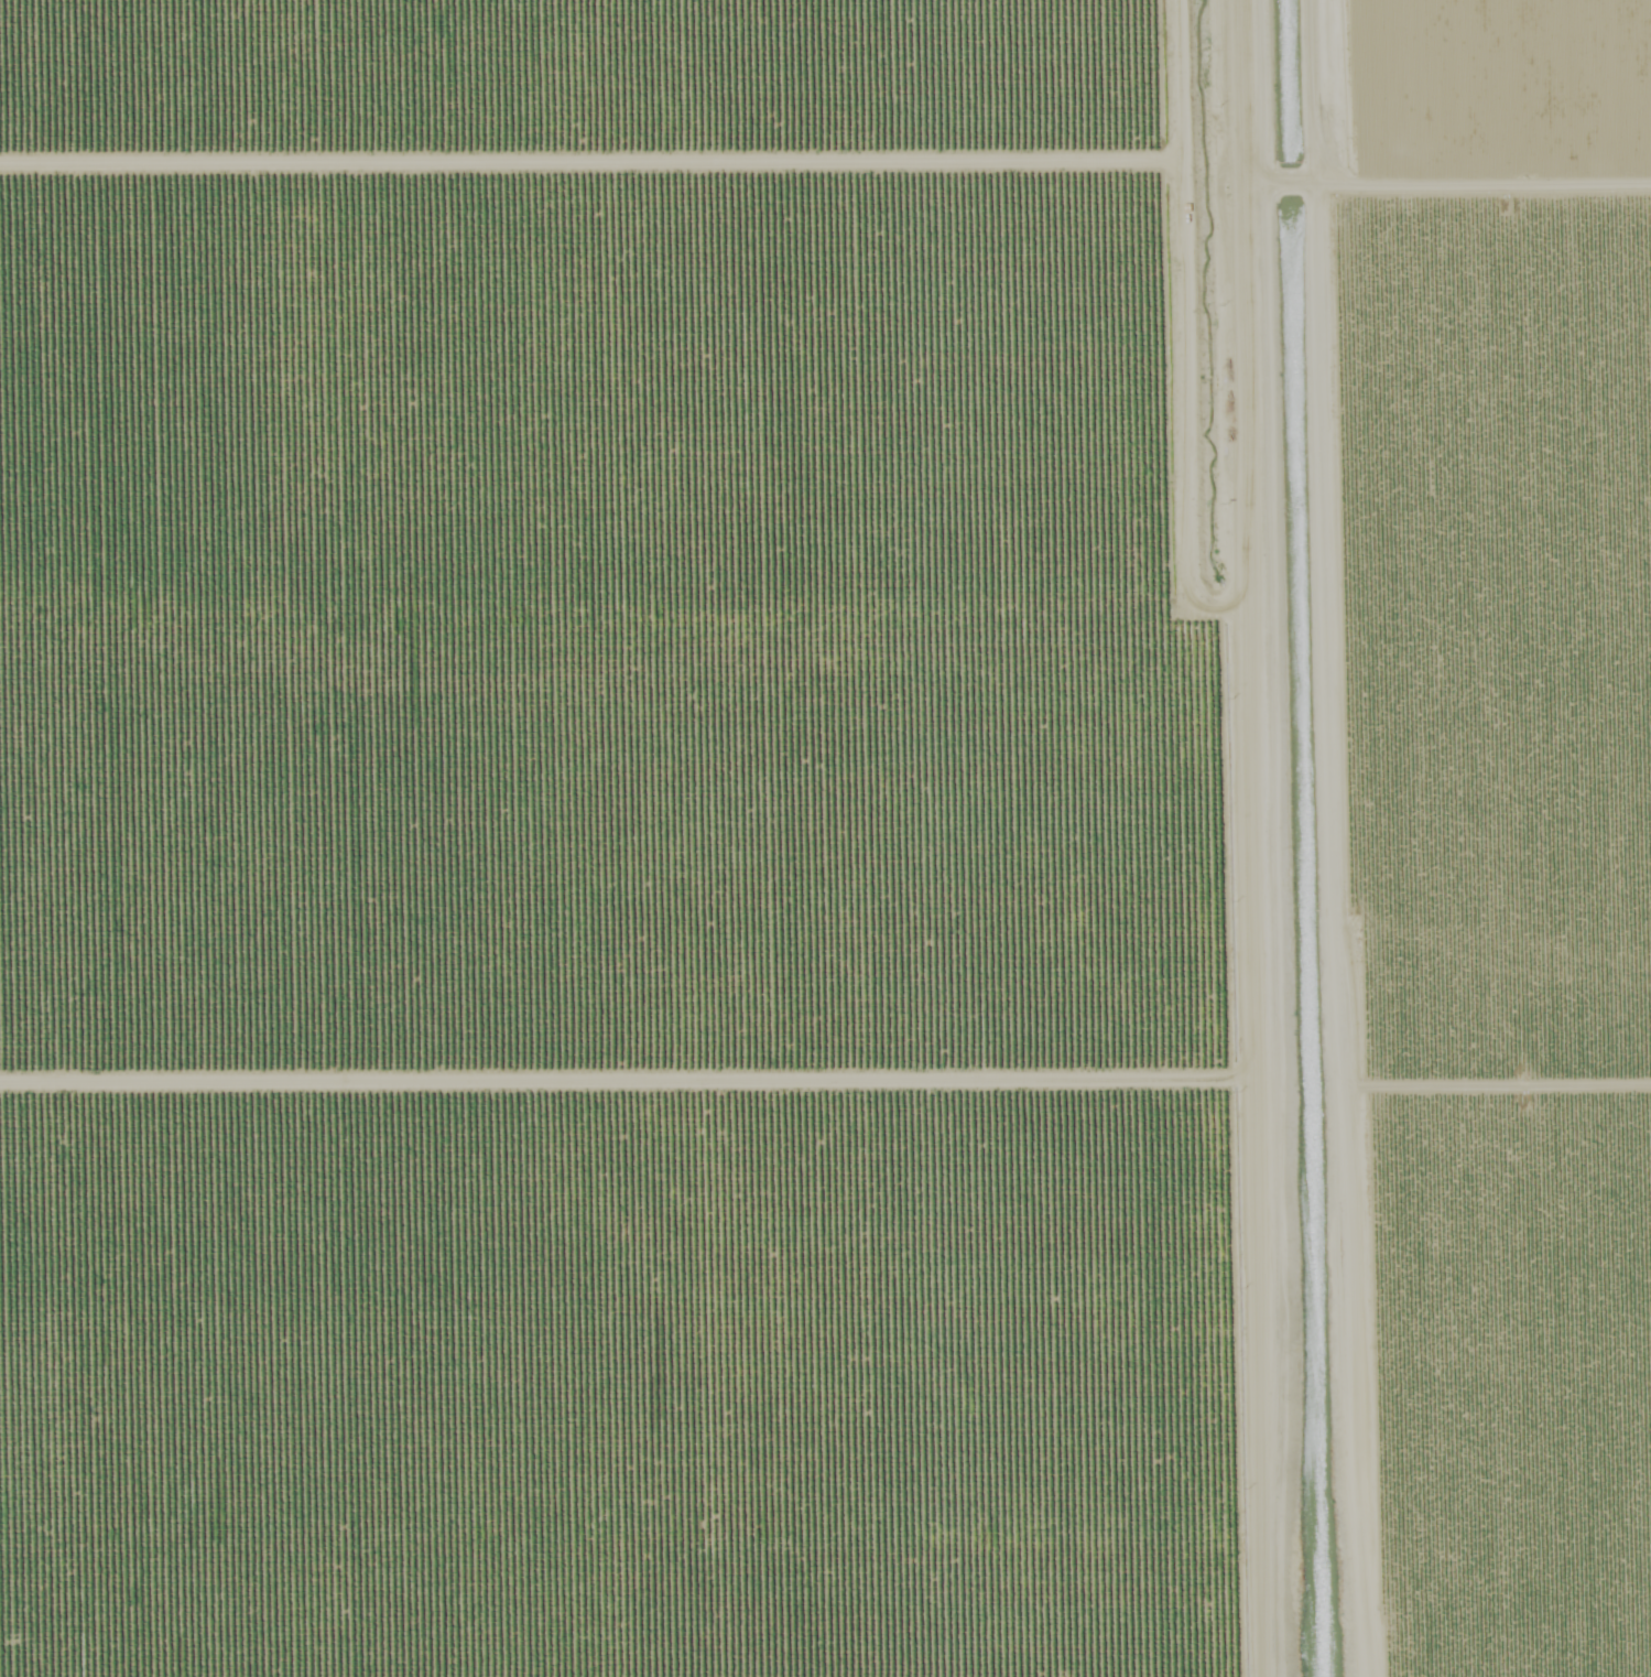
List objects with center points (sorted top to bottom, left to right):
crop: (1516, 79)
road: (1321, 93)
road: (1252, 183)
road: (1285, 183)
road: (1313, 184)
road: (1487, 184)
road: (1243, 838)
crop: (1507, 922)
road: (1335, 931)

